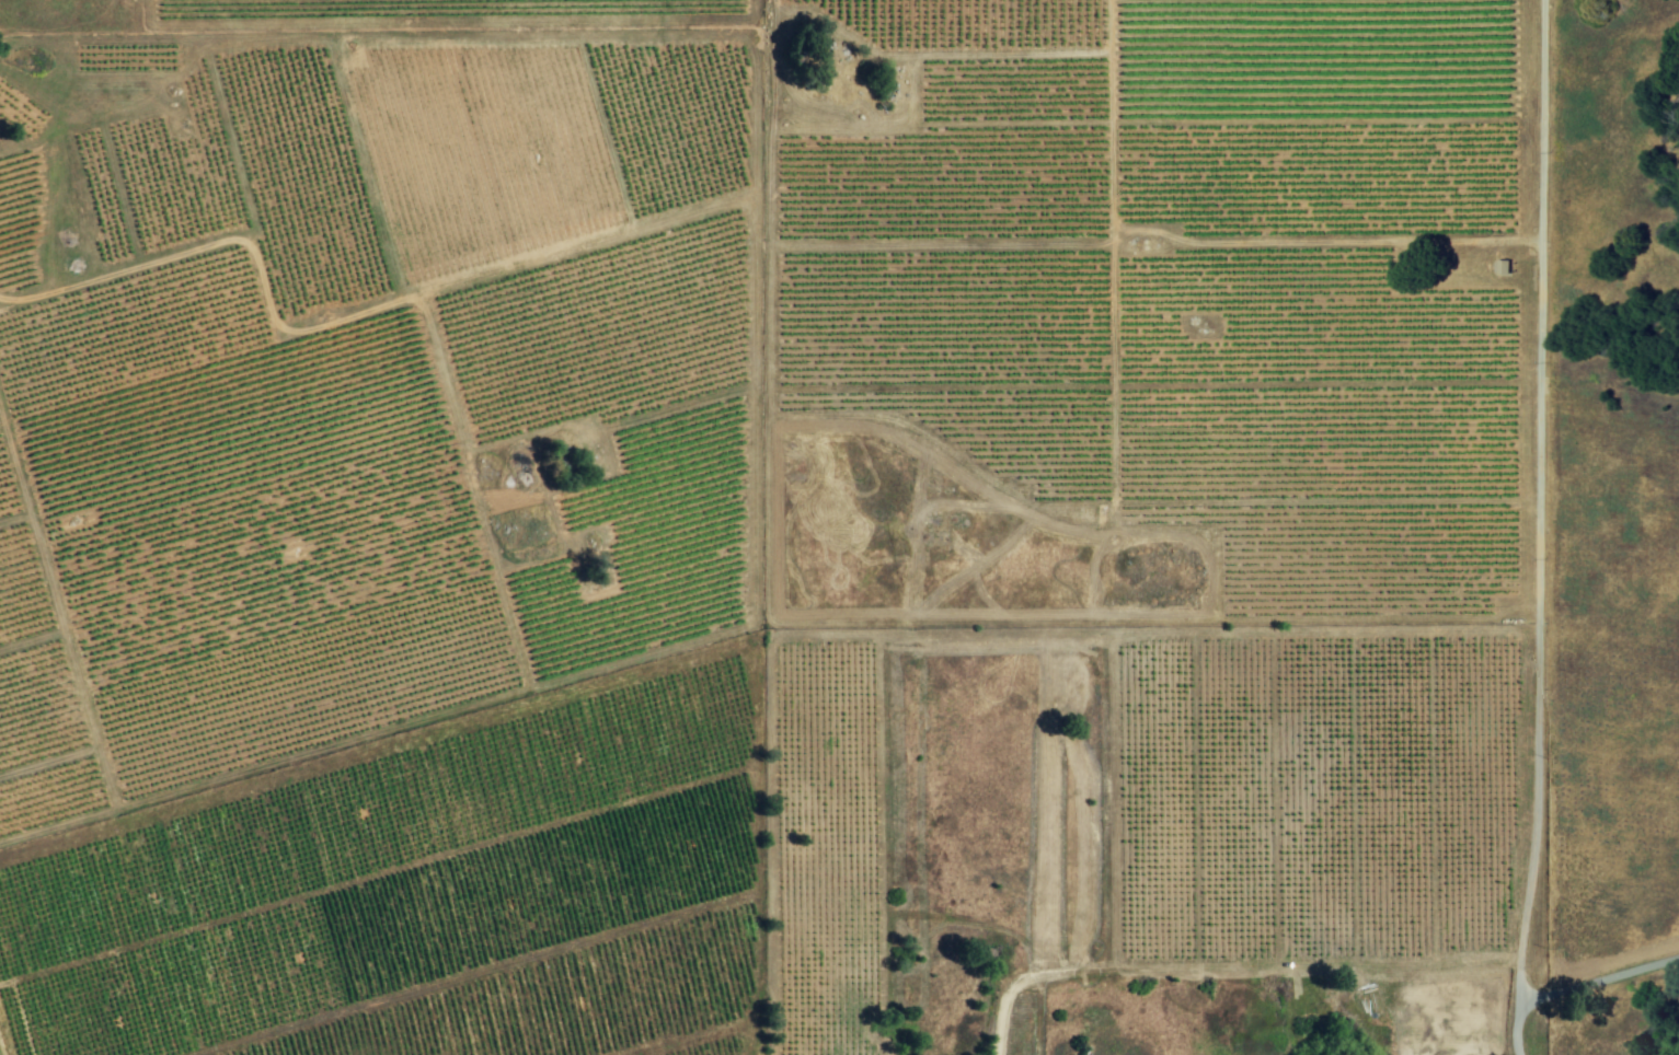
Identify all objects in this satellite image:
building: (1503, 267)
road: (1537, 527)
road: (1598, 979)

